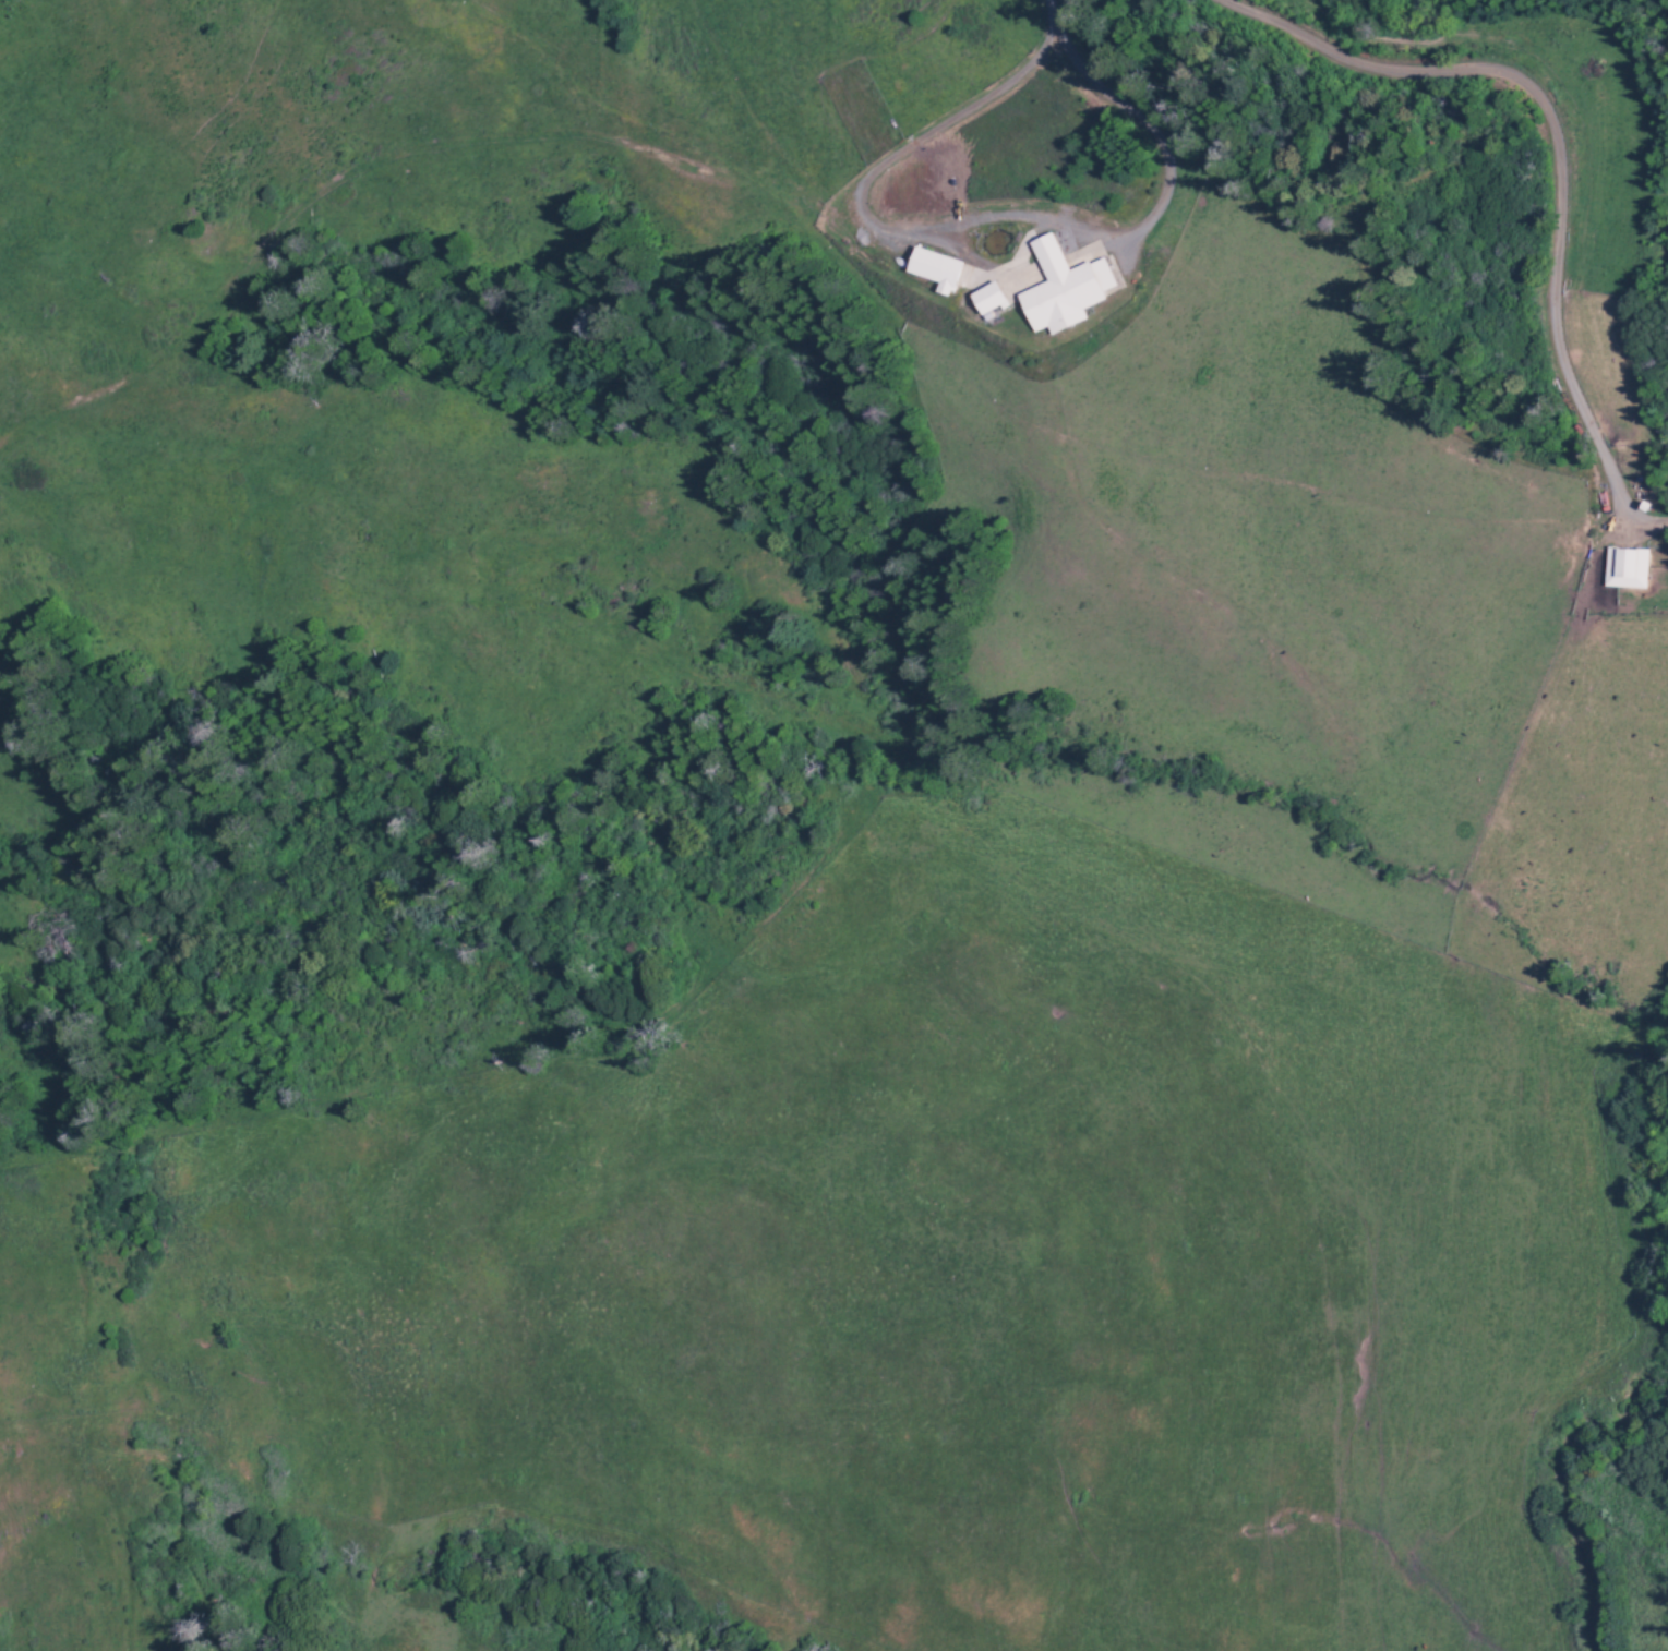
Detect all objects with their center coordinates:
building: (934, 268)
building: (1061, 288)
building: (987, 298)
building: (1624, 567)

